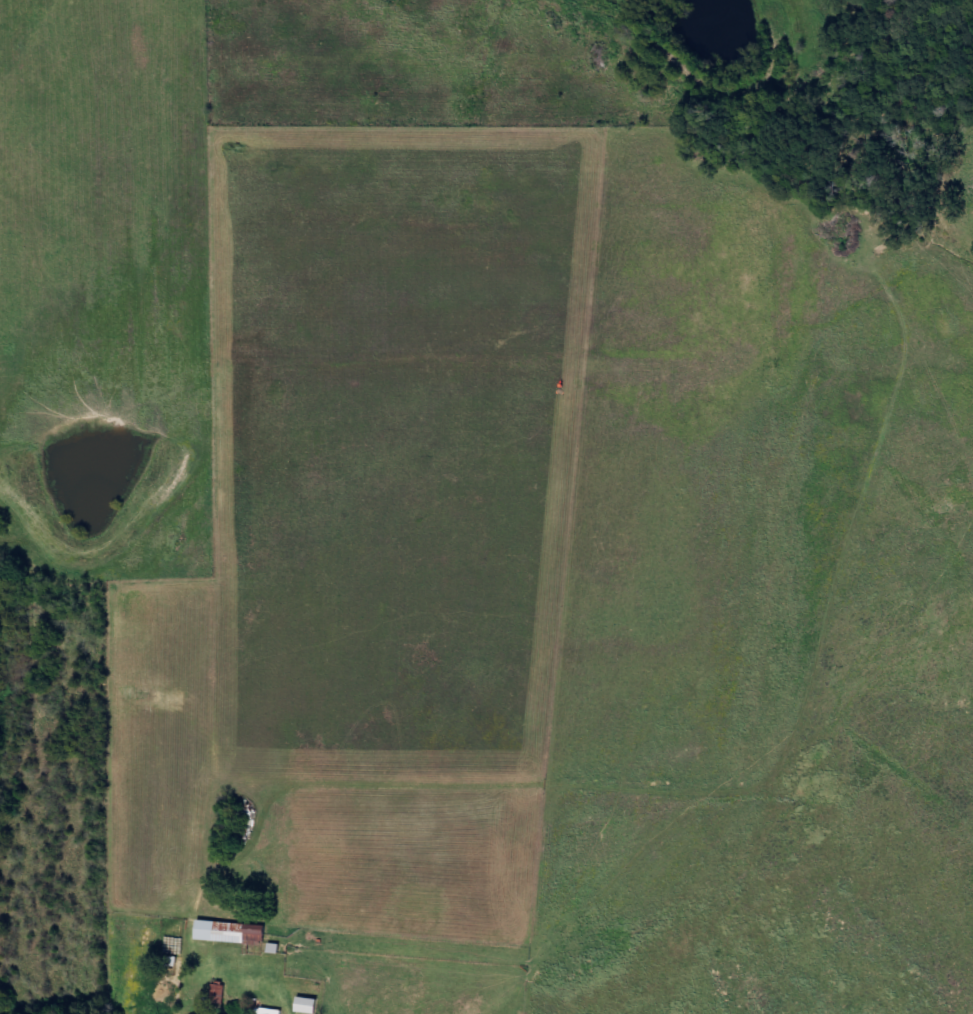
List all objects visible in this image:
building: (235, 933)
building: (221, 992)
building: (311, 1006)
building: (274, 1011)

